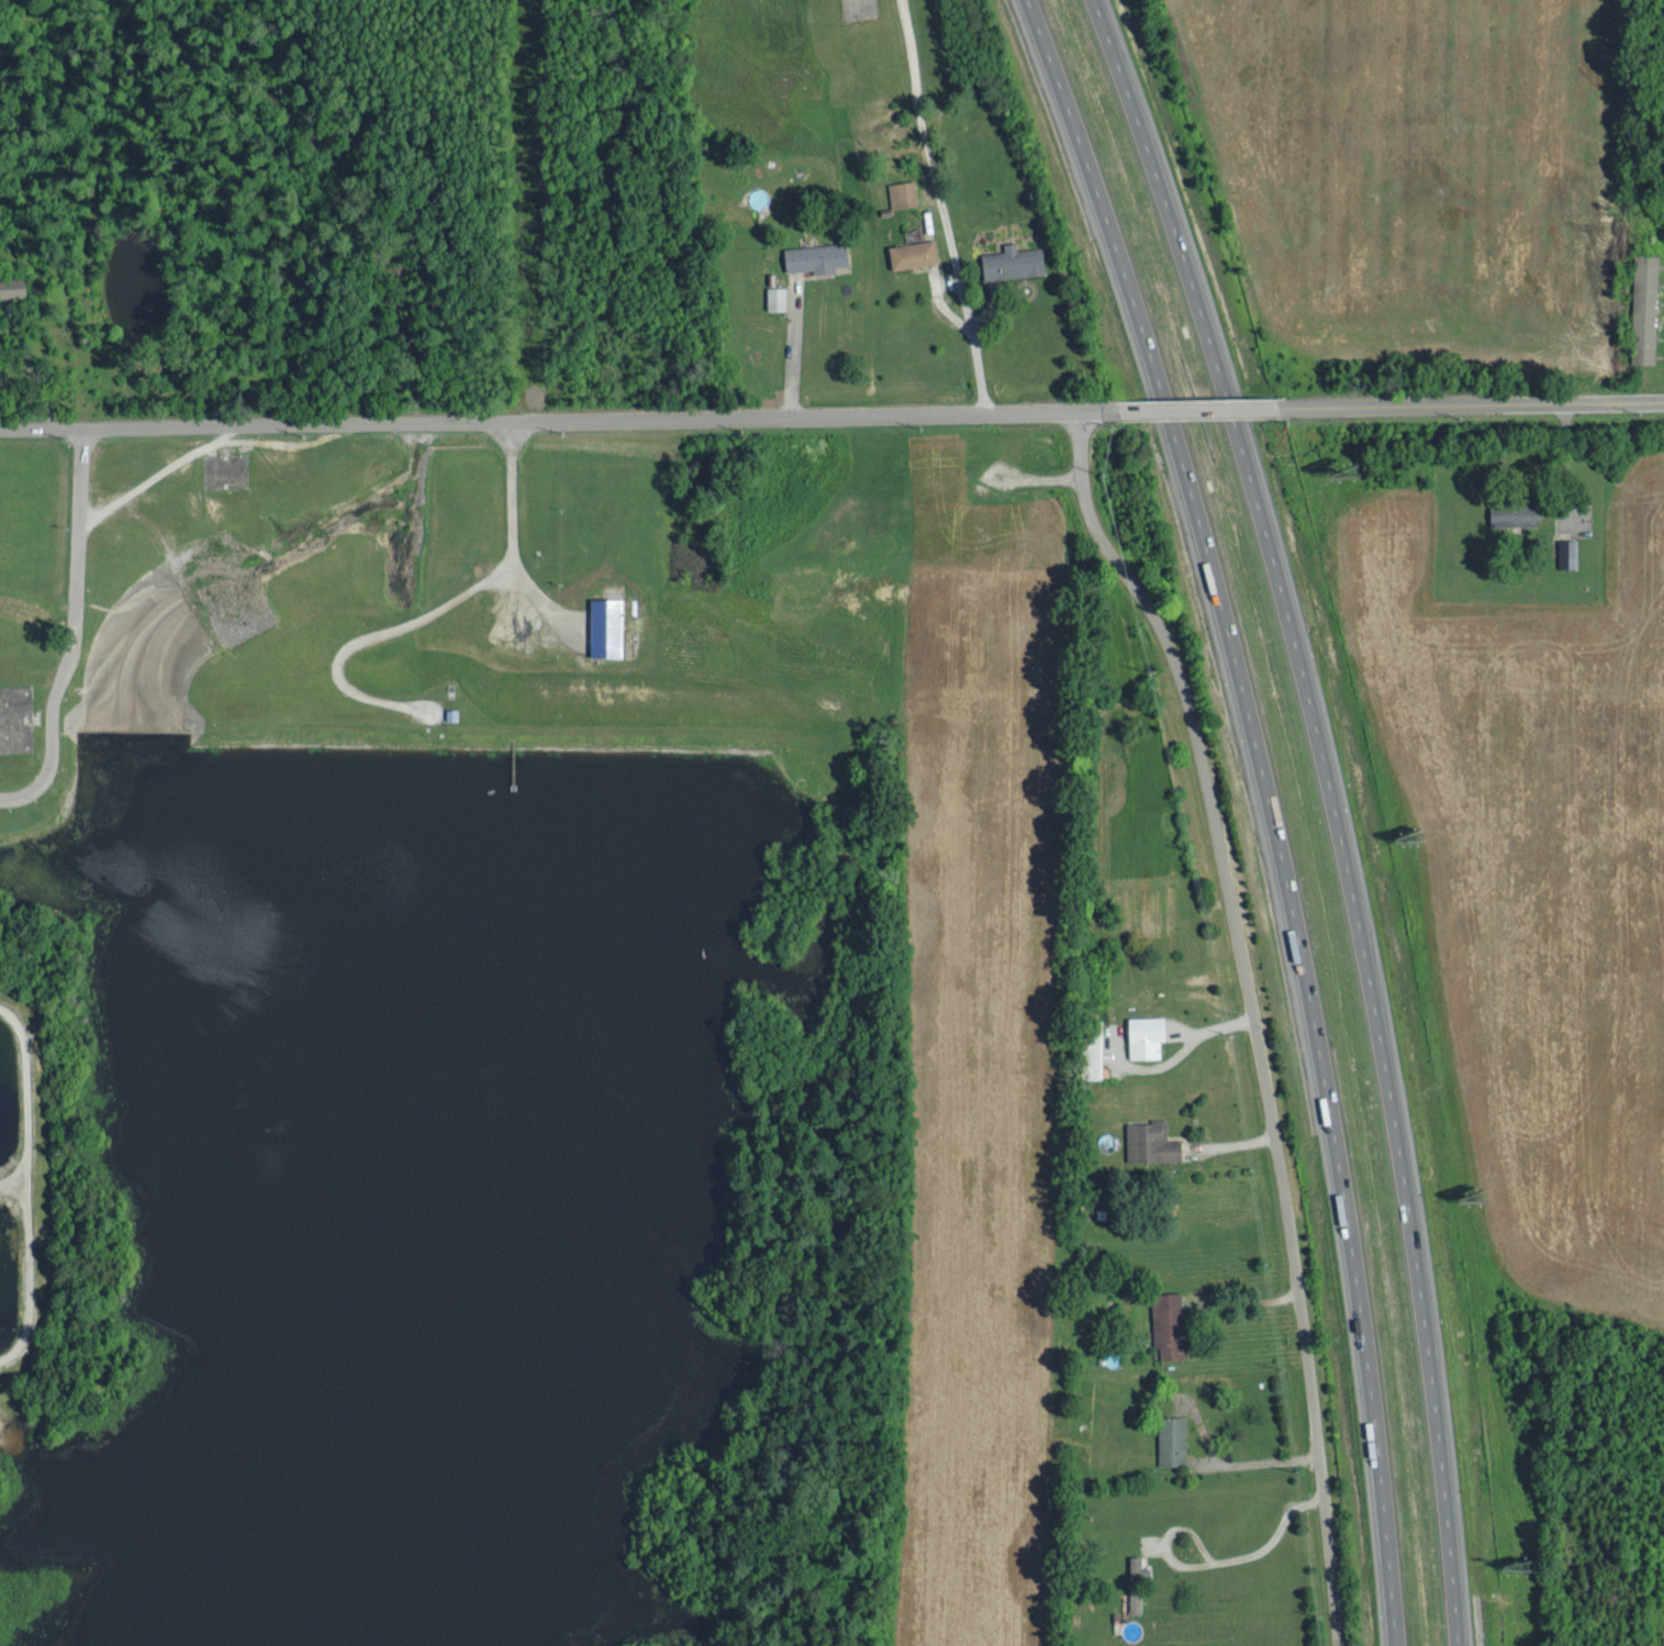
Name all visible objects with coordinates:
building: (902, 194)
road: (941, 205)
building: (913, 255)
building: (816, 257)
building: (1012, 266)
building: (12, 286)
building: (777, 297)
building: (1645, 307)
road: (792, 344)
road: (1486, 404)
road: (1205, 411)
road: (1090, 412)
road: (538, 419)
building: (1515, 512)
building: (1568, 552)
building: (607, 626)
road: (1271, 809)
road: (1332, 810)
road: (1252, 1015)
building: (1147, 1034)
building: (1150, 1141)
road: (1243, 1299)
building: (1169, 1323)
building: (1172, 1438)

